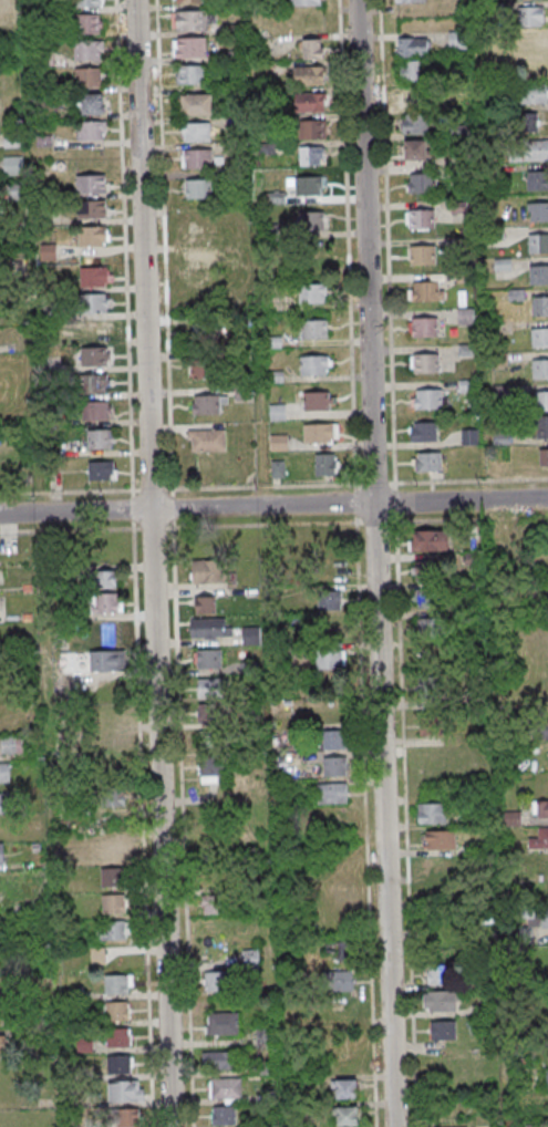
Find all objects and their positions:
building: (409, 0)
building: (189, 1)
building: (306, 2)
building: (86, 3)
building: (531, 17)
building: (192, 20)
building: (86, 25)
building: (457, 40)
building: (533, 44)
building: (412, 45)
building: (189, 46)
building: (312, 48)
building: (87, 51)
building: (412, 70)
building: (190, 74)
building: (308, 75)
building: (87, 77)
building: (533, 94)
building: (411, 96)
building: (313, 102)
building: (91, 104)
building: (196, 104)
building: (528, 122)
building: (415, 124)
building: (96, 130)
building: (313, 130)
building: (195, 132)
building: (415, 149)
building: (529, 151)
building: (310, 155)
building: (196, 159)
building: (12, 165)
building: (539, 182)
building: (422, 183)
building: (90, 184)
building: (310, 185)
building: (197, 189)
building: (91, 209)
building: (539, 213)
building: (421, 218)
building: (311, 220)
building: (204, 226)
building: (93, 236)
building: (539, 245)
building: (49, 251)
building: (313, 254)
building: (422, 255)
building: (200, 261)
building: (95, 276)
building: (540, 276)
building: (426, 290)
building: (312, 293)
building: (200, 298)
building: (95, 302)
building: (541, 307)
building: (425, 327)
building: (96, 329)
building: (316, 329)
building: (198, 333)
building: (540, 339)
building: (96, 356)
building: (425, 363)
building: (316, 364)
building: (200, 369)
building: (541, 370)
building: (97, 383)
building: (242, 392)
building: (430, 399)
building: (319, 400)
building: (542, 402)
building: (207, 404)
building: (96, 410)
building: (277, 412)
building: (541, 426)
building: (424, 431)
building: (321, 432)
building: (100, 438)
building: (207, 440)
building: (278, 442)
building: (544, 457)
building: (427, 462)
building: (325, 463)
building: (102, 471)
road: (273, 507)
building: (430, 539)
road: (152, 563)
road: (374, 563)
building: (208, 571)
building: (428, 571)
building: (106, 579)
building: (431, 599)
building: (107, 602)
building: (331, 602)
building: (205, 603)
building: (208, 628)
building: (432, 631)
building: (208, 658)
building: (330, 660)
building: (105, 662)
building: (209, 687)
building: (433, 694)
building: (210, 713)
building: (433, 726)
building: (544, 730)
building: (333, 738)
building: (208, 742)
building: (11, 746)
building: (334, 765)
building: (210, 771)
building: (4, 773)
building: (331, 794)
building: (112, 796)
building: (3, 803)
building: (541, 808)
building: (431, 813)
building: (440, 839)
building: (540, 839)
building: (112, 850)
building: (1, 854)
building: (437, 866)
building: (111, 877)
building: (214, 901)
building: (114, 904)
building: (538, 918)
building: (114, 932)
building: (341, 949)
building: (440, 974)
building: (484, 979)
building: (341, 980)
building: (216, 981)
building: (118, 983)
building: (440, 1001)
building: (116, 1011)
building: (223, 1023)
building: (442, 1030)
building: (118, 1037)
building: (2, 1046)
building: (219, 1059)
building: (118, 1064)
building: (547, 1078)
building: (226, 1087)
building: (345, 1088)
building: (125, 1090)
building: (224, 1115)
building: (347, 1116)

